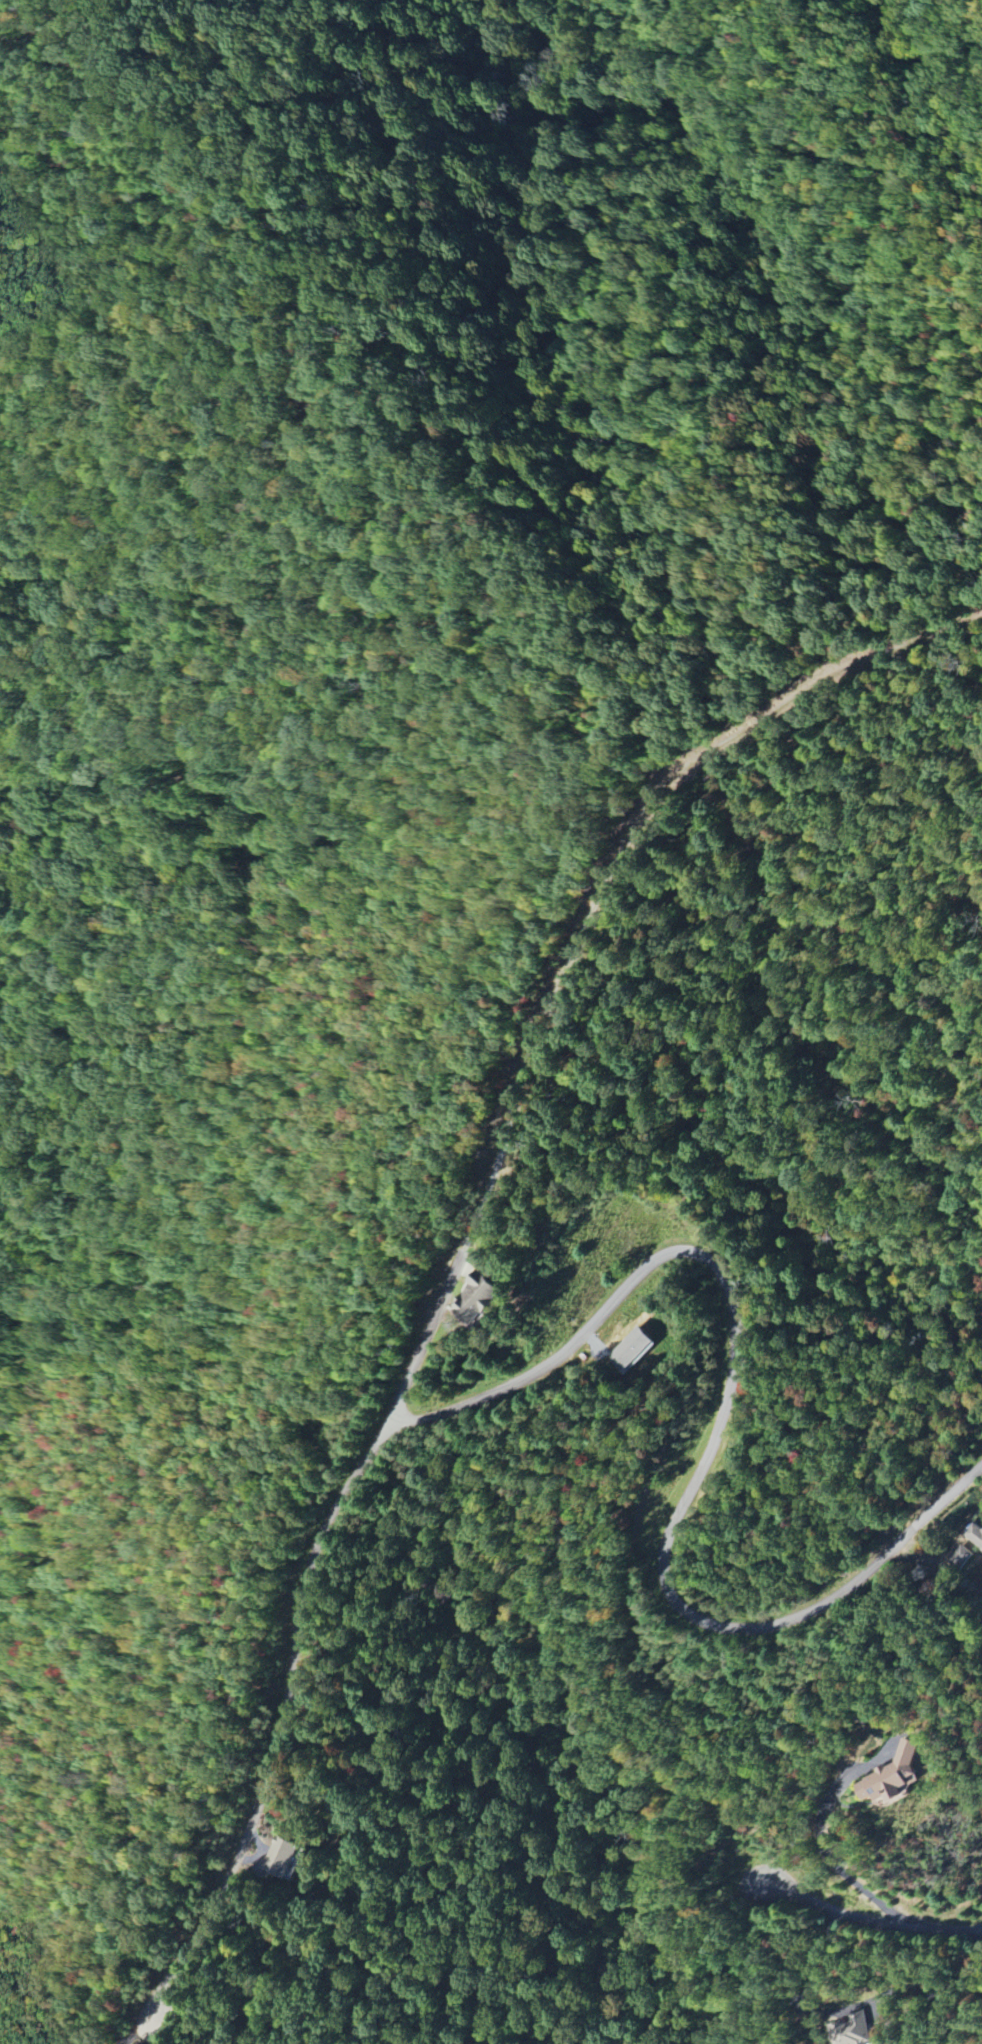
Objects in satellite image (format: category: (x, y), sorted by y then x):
building: (476, 1298)
road: (434, 1320)
building: (632, 1348)
road: (713, 1428)
road: (272, 1713)
building: (892, 1774)
road: (826, 1848)
building: (284, 1857)
road: (862, 1914)
road: (860, 2001)
building: (862, 2030)
road: (135, 2031)

